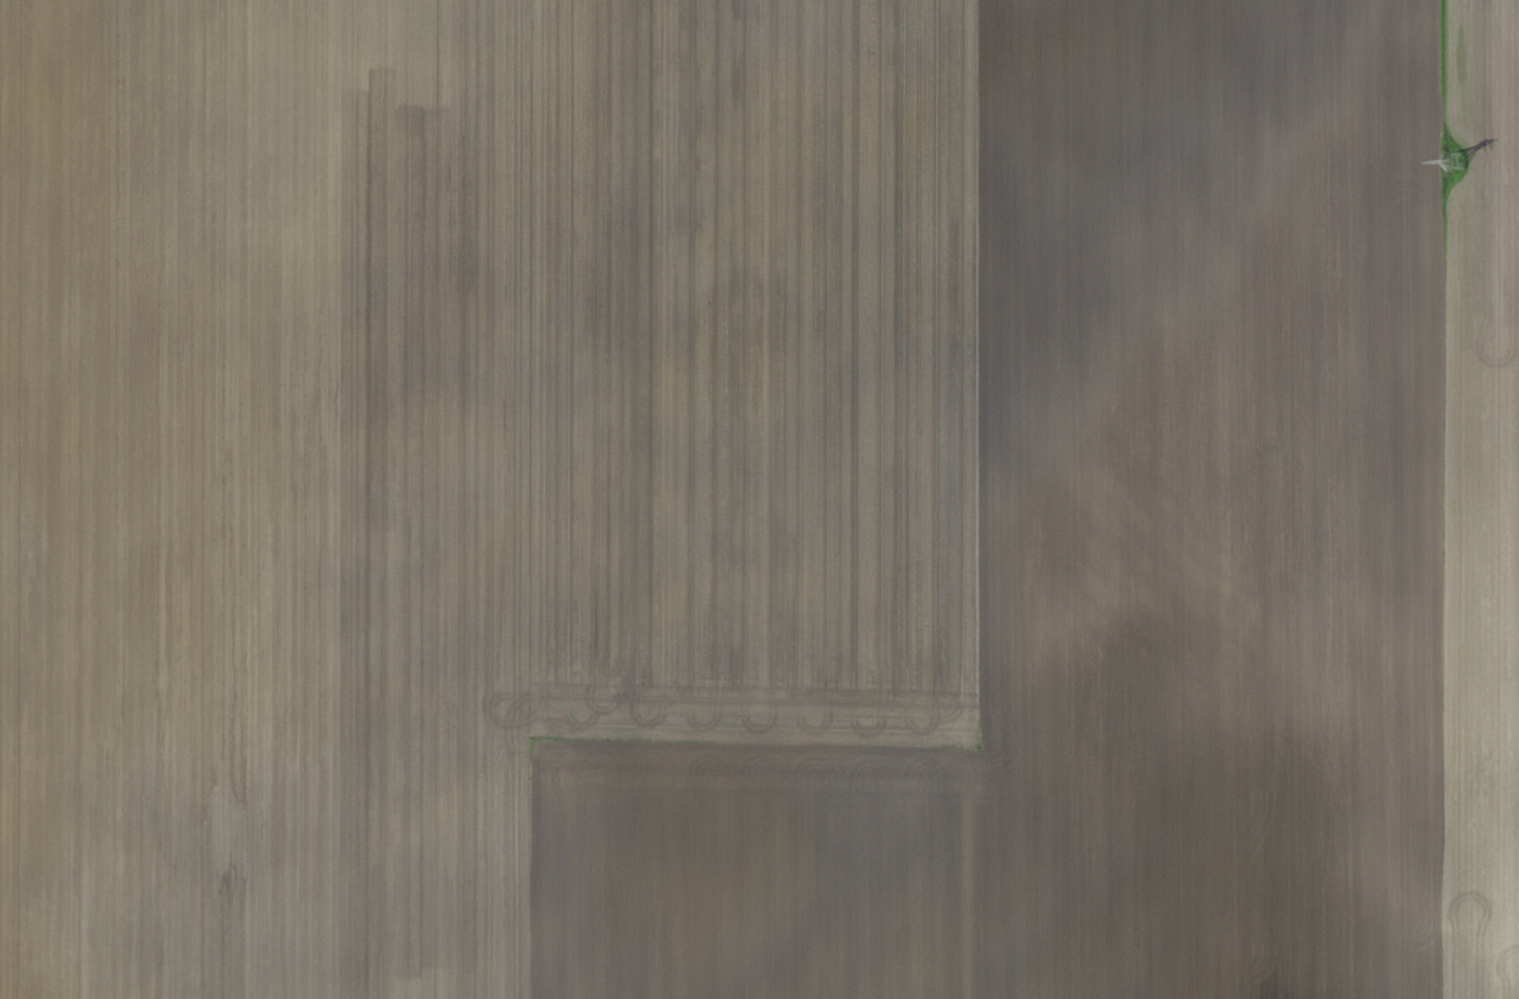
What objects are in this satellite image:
power tower: (1459, 158)

